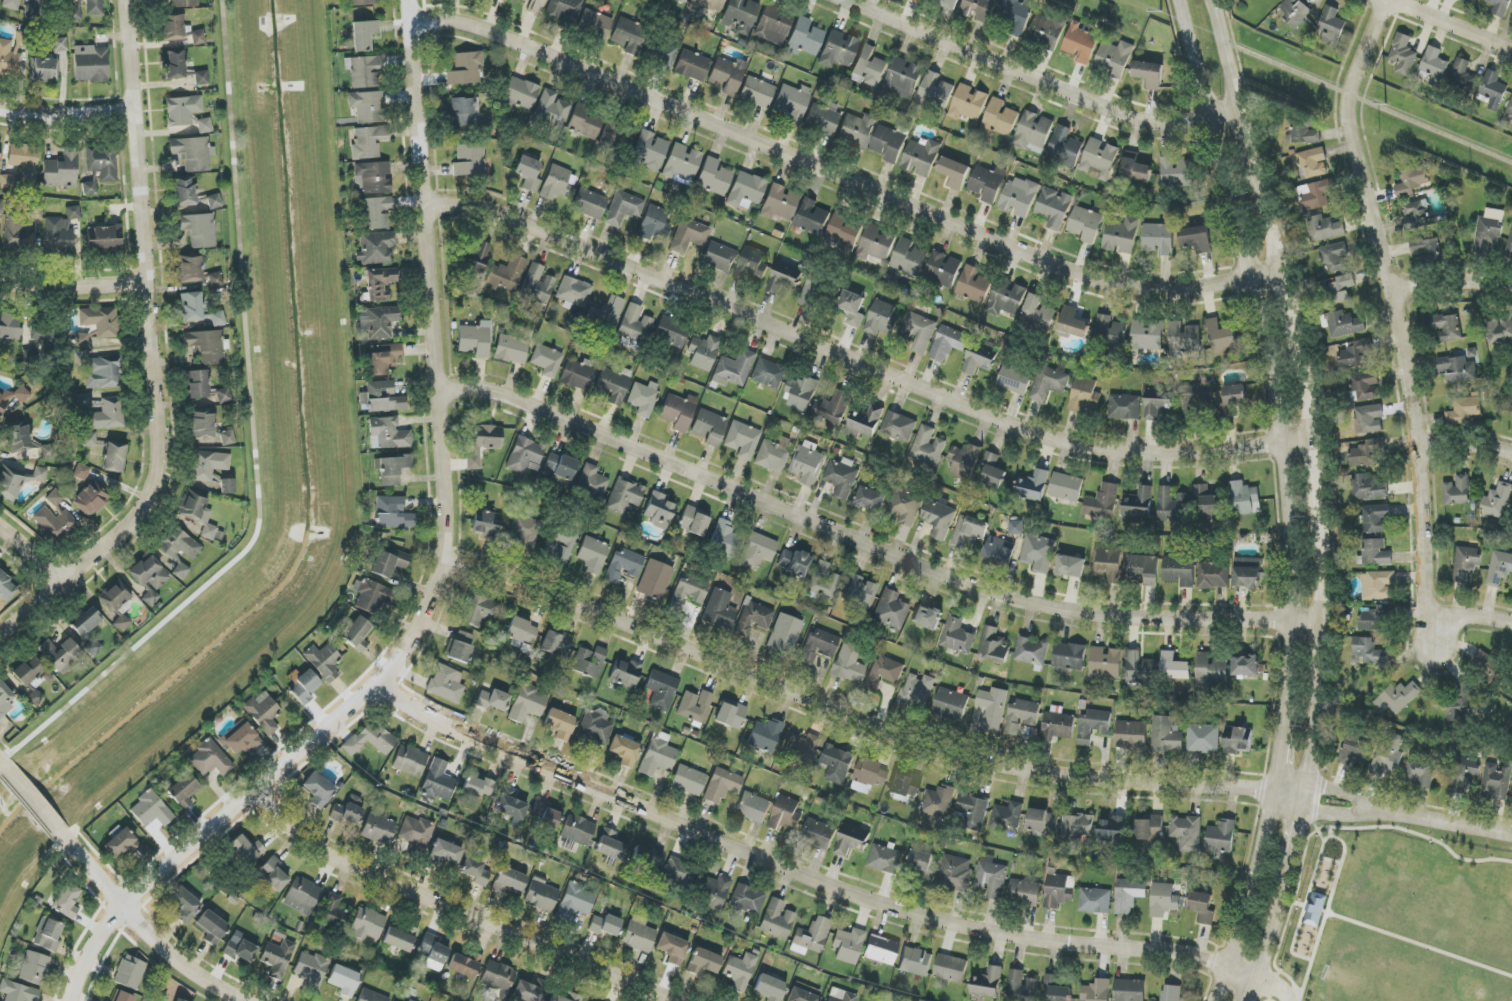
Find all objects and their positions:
building: (503, 0)
building: (683, 0)
building: (362, 2)
building: (1469, 2)
building: (184, 3)
building: (949, 3)
building: (11, 4)
building: (535, 6)
building: (707, 6)
building: (94, 7)
building: (1500, 7)
building: (979, 9)
building: (31, 10)
building: (563, 10)
building: (1294, 11)
building: (74, 12)
building: (1017, 14)
building: (740, 16)
building: (594, 23)
building: (773, 25)
building: (1331, 26)
road: (1447, 26)
building: (173, 28)
building: (1047, 31)
building: (363, 34)
building: (629, 36)
building: (198, 37)
building: (804, 37)
building: (22, 38)
building: (59, 44)
building: (1080, 44)
building: (838, 50)
building: (665, 54)
road: (1228, 55)
building: (1403, 55)
building: (1114, 58)
building: (9, 59)
building: (173, 64)
building: (91, 66)
building: (691, 66)
building: (869, 67)
building: (1434, 67)
building: (465, 68)
building: (44, 70)
building: (364, 71)
building: (1150, 74)
building: (1462, 74)
building: (727, 75)
building: (201, 78)
building: (903, 78)
road: (1045, 79)
building: (936, 90)
building: (1492, 91)
building: (757, 92)
building: (519, 94)
building: (792, 102)
building: (969, 103)
road: (1369, 104)
building: (366, 106)
building: (551, 108)
building: (182, 110)
building: (465, 111)
building: (1509, 111)
road: (64, 116)
building: (1001, 117)
building: (822, 118)
building: (585, 122)
building: (204, 125)
building: (856, 130)
building: (1033, 132)
building: (1304, 132)
building: (610, 133)
road: (1250, 139)
building: (368, 142)
building: (889, 143)
building: (1063, 148)
building: (649, 150)
building: (193, 153)
building: (921, 157)
building: (1099, 157)
building: (469, 159)
building: (24, 160)
building: (1313, 162)
building: (102, 163)
building: (682, 164)
building: (1135, 168)
building: (61, 170)
building: (955, 172)
building: (1176, 172)
building: (528, 173)
road: (847, 173)
building: (374, 177)
building: (714, 177)
building: (6, 181)
building: (1412, 181)
building: (557, 183)
building: (987, 183)
building: (89, 188)
building: (746, 190)
building: (184, 192)
building: (1315, 194)
building: (1019, 197)
building: (214, 201)
building: (779, 203)
building: (590, 204)
building: (1, 206)
building: (623, 208)
building: (1053, 208)
building: (377, 212)
building: (1416, 214)
building: (811, 217)
road: (1272, 219)
building: (654, 223)
building: (1085, 224)
building: (21, 228)
building: (1324, 228)
building: (198, 229)
building: (1489, 230)
building: (61, 232)
building: (845, 232)
building: (689, 235)
building: (1121, 236)
building: (104, 238)
building: (1158, 239)
building: (1196, 239)
building: (876, 243)
building: (1425, 244)
building: (1509, 246)
building: (375, 248)
building: (720, 257)
building: (1335, 257)
building: (909, 258)
building: (476, 259)
building: (751, 264)
building: (190, 269)
building: (943, 269)
building: (506, 274)
road: (1451, 279)
building: (782, 282)
building: (379, 283)
building: (537, 284)
building: (974, 285)
road: (72, 288)
building: (1340, 289)
building: (574, 292)
building: (812, 292)
road: (1290, 295)
building: (1007, 300)
building: (191, 306)
building: (853, 307)
building: (1038, 313)
building: (605, 314)
building: (882, 319)
road: (1397, 320)
building: (100, 321)
building: (378, 322)
building: (634, 324)
building: (1073, 324)
building: (1344, 324)
building: (1447, 327)
building: (9, 328)
building: (1499, 328)
building: (42, 332)
building: (671, 332)
building: (920, 332)
building: (1110, 332)
building: (1147, 336)
building: (1221, 337)
building: (1184, 338)
building: (475, 339)
building: (81, 340)
building: (948, 343)
building: (206, 346)
road: (150, 349)
building: (511, 349)
building: (703, 352)
building: (32, 354)
building: (1355, 354)
building: (384, 358)
building: (982, 359)
building: (546, 360)
road: (1272, 361)
road: (864, 364)
building: (733, 369)
building: (1458, 369)
building: (103, 372)
building: (768, 374)
building: (577, 375)
road: (1310, 377)
building: (1015, 380)
building: (1049, 383)
building: (198, 384)
building: (1364, 385)
building: (612, 386)
building: (801, 393)
building: (222, 395)
building: (1084, 395)
building: (382, 397)
building: (1195, 397)
building: (643, 398)
building: (1233, 399)
building: (4, 400)
building: (84, 400)
building: (1158, 404)
building: (1125, 407)
building: (832, 408)
building: (1465, 409)
building: (678, 412)
building: (108, 414)
building: (1369, 419)
building: (865, 422)
building: (899, 426)
building: (709, 427)
building: (208, 428)
building: (388, 434)
road: (252, 437)
building: (89, 440)
building: (742, 440)
building: (26, 443)
building: (484, 444)
road: (1467, 445)
building: (928, 446)
building: (1367, 453)
building: (774, 454)
building: (525, 455)
building: (115, 457)
building: (965, 460)
building: (808, 463)
building: (211, 466)
building: (560, 466)
building: (391, 469)
road: (1321, 470)
building: (993, 471)
building: (81, 472)
building: (842, 477)
building: (18, 480)
building: (591, 481)
building: (227, 486)
building: (1033, 486)
building: (1066, 487)
building: (1370, 487)
building: (1457, 491)
building: (624, 495)
building: (55, 497)
building: (90, 499)
building: (871, 499)
building: (1244, 499)
building: (1208, 501)
building: (1497, 501)
building: (1103, 502)
building: (1172, 505)
building: (1138, 506)
building: (906, 507)
building: (659, 510)
building: (393, 513)
building: (198, 514)
building: (939, 518)
building: (1375, 518)
building: (694, 521)
building: (55, 523)
building: (487, 524)
building: (1016, 527)
building: (524, 531)
building: (970, 531)
building: (725, 538)
building: (178, 544)
road: (873, 545)
building: (1000, 550)
building: (757, 551)
road: (31, 552)
building: (1376, 552)
building: (1039, 553)
building: (592, 555)
road: (1325, 561)
building: (793, 562)
building: (389, 563)
building: (1466, 563)
building: (623, 565)
building: (1110, 565)
building: (1071, 566)
building: (1499, 569)
building: (180, 570)
building: (1143, 570)
building: (1179, 571)
building: (1249, 573)
road: (443, 575)
building: (1214, 575)
building: (149, 578)
building: (655, 580)
building: (823, 582)
building: (1378, 585)
building: (7, 588)
building: (860, 591)
building: (688, 592)
building: (372, 595)
building: (115, 596)
building: (719, 609)
building: (479, 610)
building: (890, 610)
building: (927, 617)
building: (753, 618)
building: (1374, 618)
road: (1470, 618)
building: (85, 622)
building: (121, 623)
building: (357, 633)
building: (785, 634)
building: (957, 635)
building: (556, 643)
building: (818, 646)
building: (994, 646)
building: (460, 647)
road: (1324, 649)
building: (1031, 651)
building: (1368, 652)
building: (60, 655)
building: (1069, 658)
building: (323, 661)
building: (589, 661)
building: (849, 664)
building: (1105, 664)
building: (1245, 666)
building: (1487, 666)
building: (1174, 667)
building: (1140, 669)
building: (1211, 669)
building: (884, 672)
building: (626, 673)
building: (32, 679)
building: (446, 684)
building: (661, 690)
building: (917, 690)
building: (1398, 697)
building: (5, 700)
building: (492, 700)
building: (528, 703)
building: (1459, 703)
building: (951, 704)
building: (694, 706)
building: (993, 708)
building: (263, 712)
building: (1021, 714)
building: (731, 715)
road: (851, 716)
building: (560, 724)
building: (1058, 724)
building: (1093, 726)
building: (593, 729)
road: (1318, 731)
building: (765, 735)
building: (1131, 735)
building: (1166, 735)
building: (240, 738)
building: (1203, 739)
building: (369, 740)
building: (1238, 740)
building: (1356, 747)
building: (801, 748)
building: (624, 750)
building: (1389, 754)
building: (658, 755)
building: (210, 759)
building: (410, 761)
road: (1281, 762)
building: (837, 764)
building: (1420, 773)
building: (1464, 773)
building: (868, 776)
building: (688, 780)
building: (438, 781)
building: (1496, 781)
building: (722, 785)
building: (905, 786)
building: (478, 787)
road: (1292, 788)
building: (318, 790)
building: (183, 791)
road: (1336, 791)
road: (1306, 797)
road: (32, 799)
building: (939, 802)
building: (753, 807)
building: (151, 810)
building: (973, 810)
building: (347, 811)
road: (1316, 812)
building: (786, 813)
building: (545, 815)
building: (1007, 817)
building: (1043, 820)
road: (1435, 821)
building: (376, 828)
building: (1150, 828)
building: (1076, 829)
building: (1112, 829)
building: (577, 830)
building: (1187, 832)
road: (1299, 832)
building: (818, 833)
building: (417, 834)
building: (1221, 837)
building: (121, 843)
building: (610, 845)
building: (849, 845)
building: (246, 850)
building: (446, 852)
building: (647, 856)
building: (886, 859)
building: (921, 861)
building: (475, 871)
building: (678, 871)
building: (955, 873)
building: (273, 874)
road: (805, 874)
building: (991, 879)
building: (509, 882)
building: (712, 891)
building: (1059, 891)
building: (1025, 892)
building: (541, 895)
building: (1129, 895)
building: (302, 896)
road: (1253, 898)
building: (747, 899)
building: (1164, 900)
building: (66, 901)
building: (1095, 901)
building: (576, 902)
building: (184, 904)
building: (1202, 907)
road: (459, 909)
building: (1316, 909)
building: (333, 914)
road: (1278, 916)
building: (777, 919)
park: (1402, 921)
building: (367, 924)
building: (605, 925)
building: (212, 927)
road: (146, 928)
building: (47, 935)
building: (811, 936)
building: (639, 937)
building: (400, 938)
building: (848, 945)
building: (240, 948)
building: (673, 948)
building: (881, 950)
building: (433, 953)
building: (278, 959)
building: (915, 961)
building: (704, 962)
building: (465, 965)
building: (34, 968)
building: (310, 968)
building: (951, 968)
building: (130, 972)
building: (739, 972)
building: (498, 978)
building: (344, 980)
building: (987, 983)
building: (1022, 985)
road: (1277, 986)
building: (1057, 988)
building: (768, 989)
road: (1256, 989)
building: (1129, 990)
building: (528, 991)
building: (1097, 991)
building: (18, 992)
building: (1171, 993)
building: (803, 994)
building: (841, 995)
building: (371, 996)
building: (122, 997)
building: (565, 997)
building: (177, 1000)

